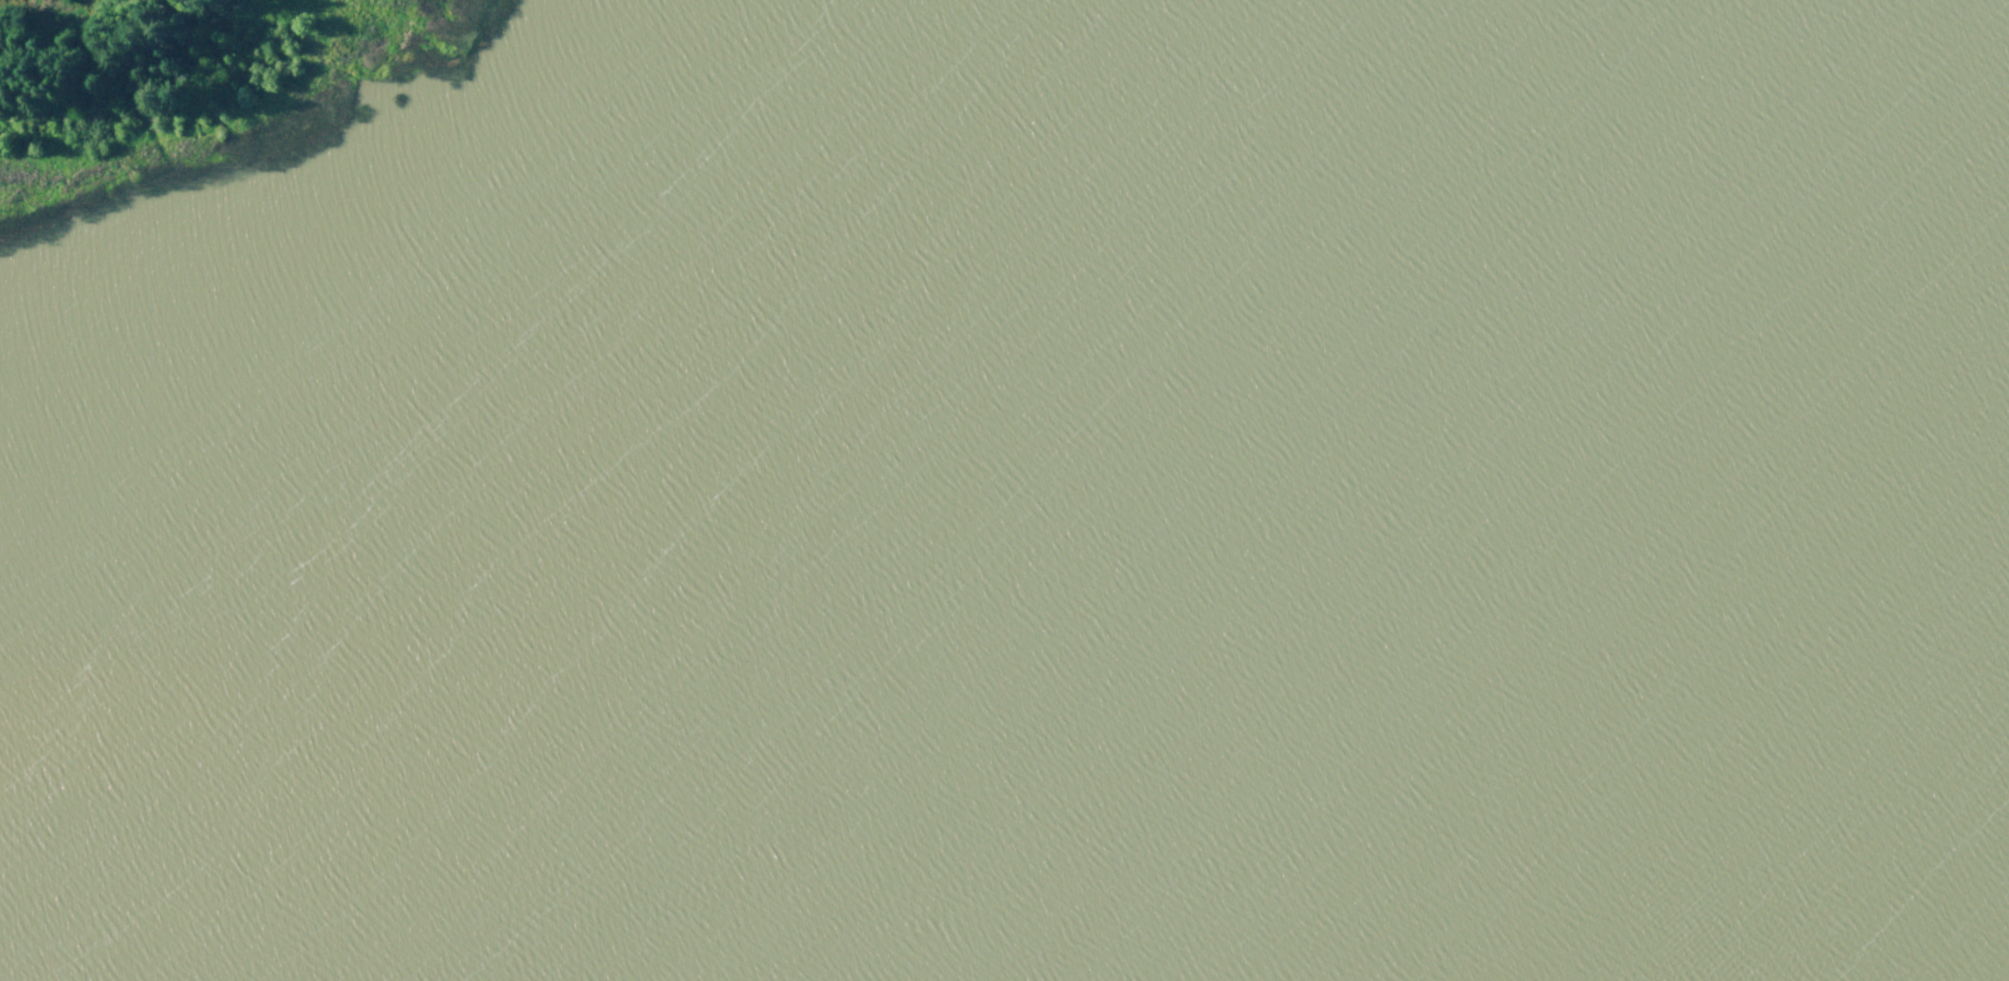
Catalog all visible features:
road: (104, 50)
road: (144, 99)
river: (1845, 723)

